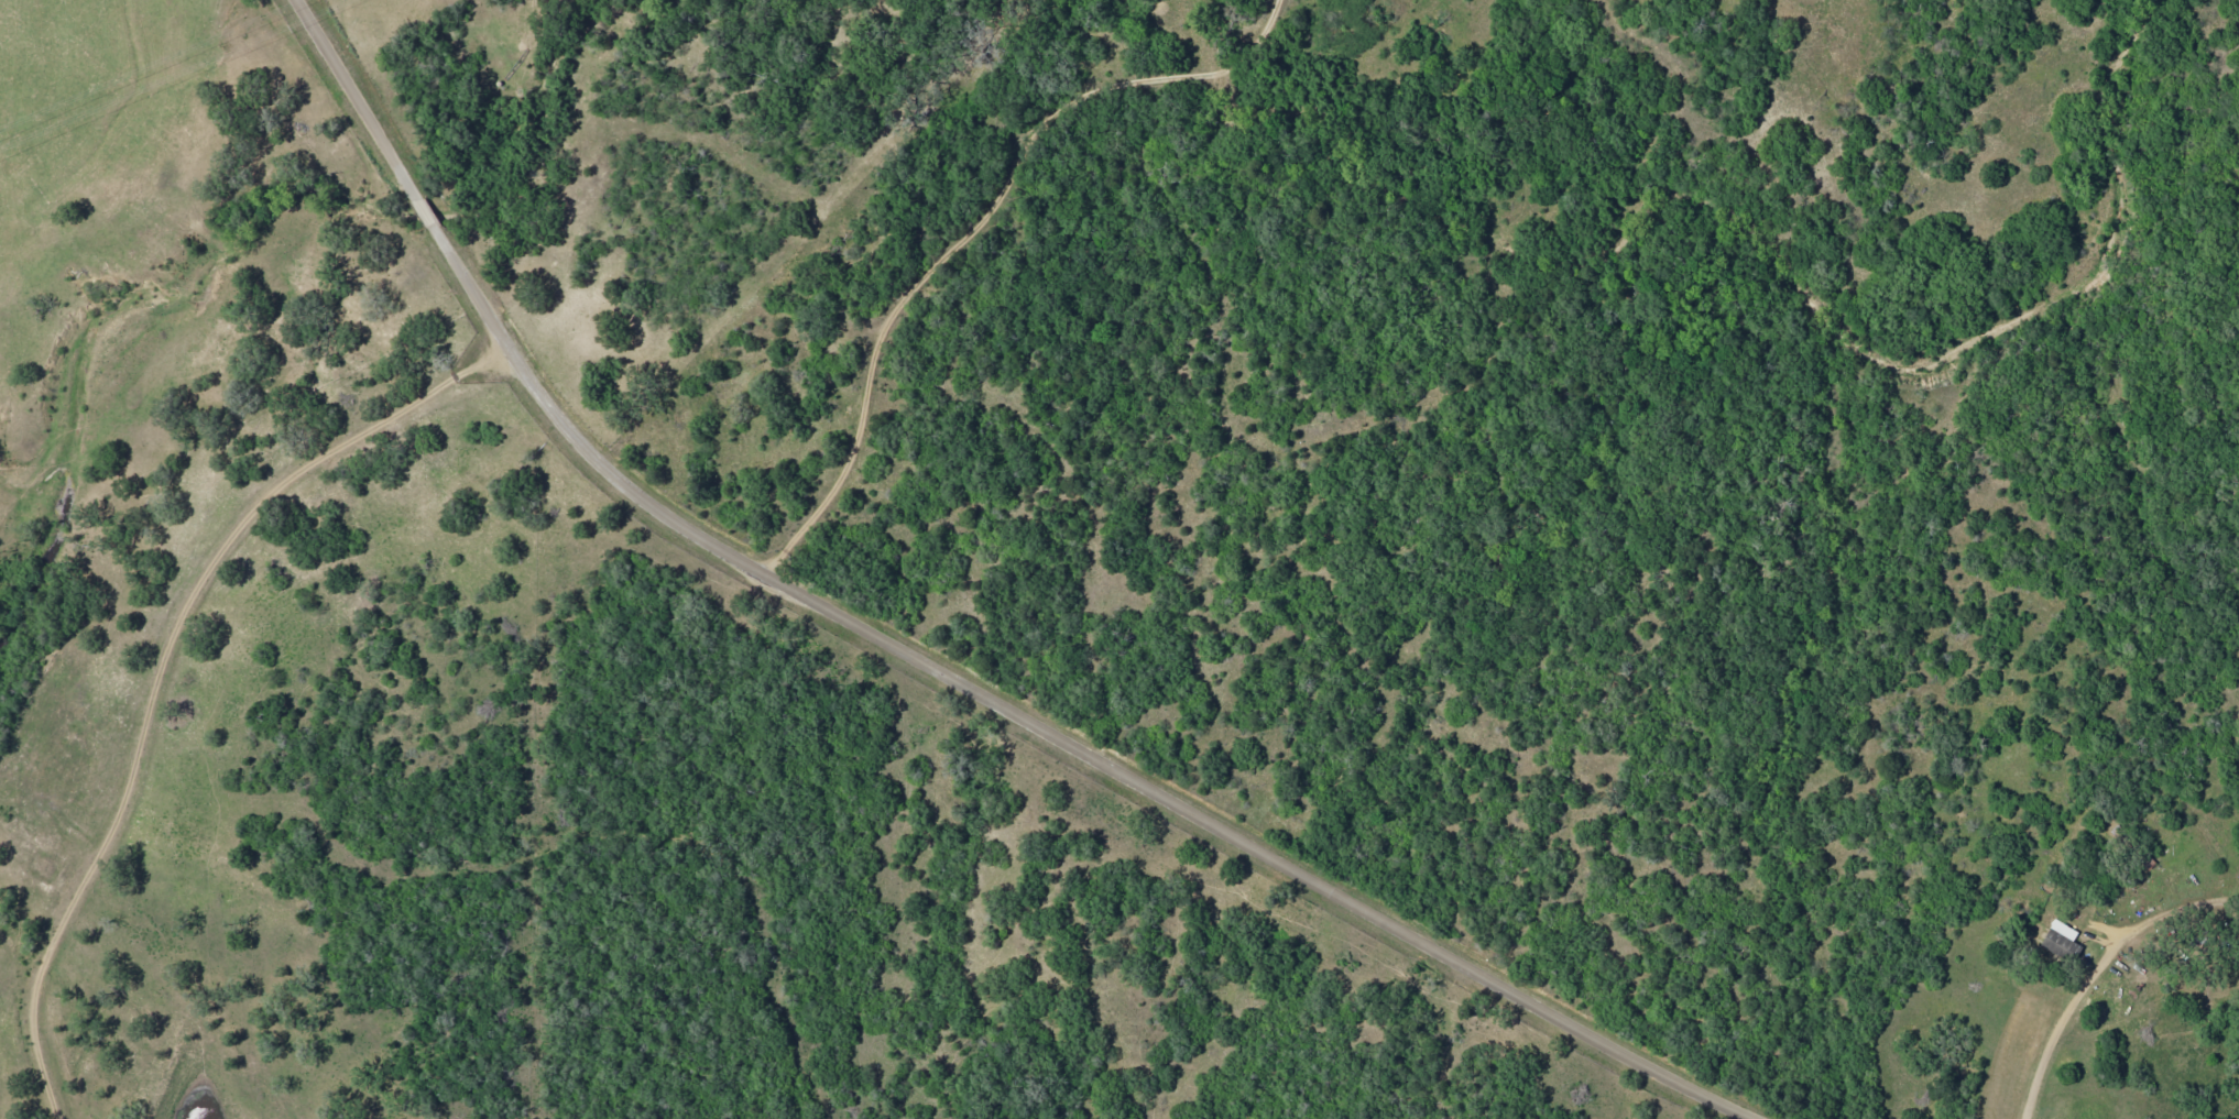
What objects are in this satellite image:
road: (944, 239)
road: (940, 665)
road: (208, 683)
building: (2060, 940)

